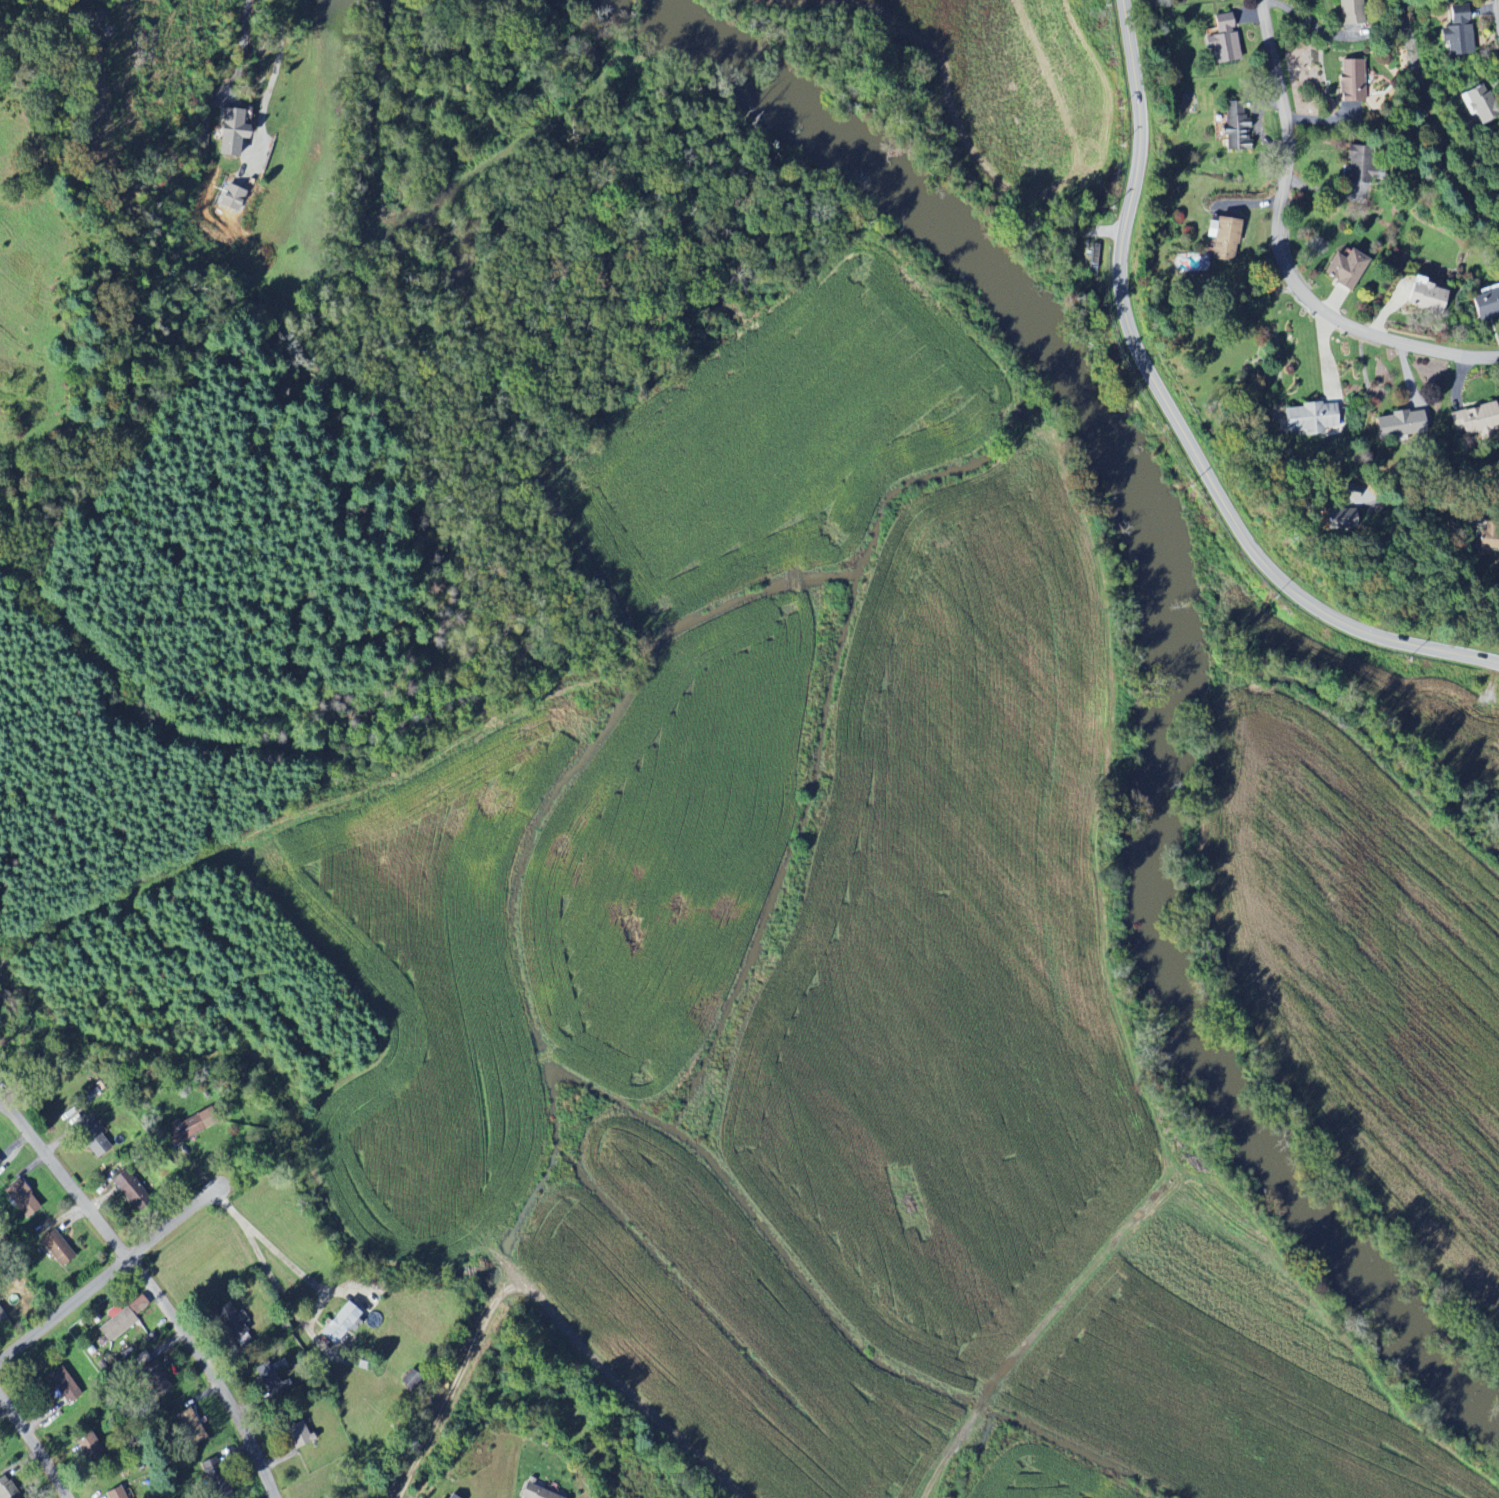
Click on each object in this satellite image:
building: (1350, 12)
building: (1456, 32)
road: (243, 38)
building: (1221, 40)
road: (279, 55)
building: (1350, 81)
building: (1380, 93)
building: (1478, 104)
road: (1434, 123)
building: (1233, 130)
building: (231, 132)
building: (1363, 166)
river: (890, 179)
building: (236, 196)
building: (1222, 238)
road: (1279, 253)
building: (1089, 255)
building: (1345, 269)
building: (1426, 297)
building: (1486, 306)
road: (1174, 417)
building: (1309, 418)
building: (1473, 421)
building: (1396, 424)
building: (1353, 496)
road: (1483, 510)
building: (1333, 522)
river: (1152, 969)
building: (197, 1124)
building: (98, 1140)
road: (64, 1177)
building: (134, 1191)
building: (25, 1199)
building: (61, 1250)
road: (108, 1274)
road: (304, 1296)
building: (2, 1315)
building: (228, 1321)
building: (116, 1322)
building: (337, 1323)
road: (211, 1372)
building: (152, 1378)
building: (270, 1380)
building: (61, 1382)
building: (189, 1426)
building: (295, 1434)
road: (34, 1446)
building: (86, 1446)
building: (218, 1489)
building: (5, 1490)
building: (533, 1492)
building: (113, 1493)
building: (449, 1496)

